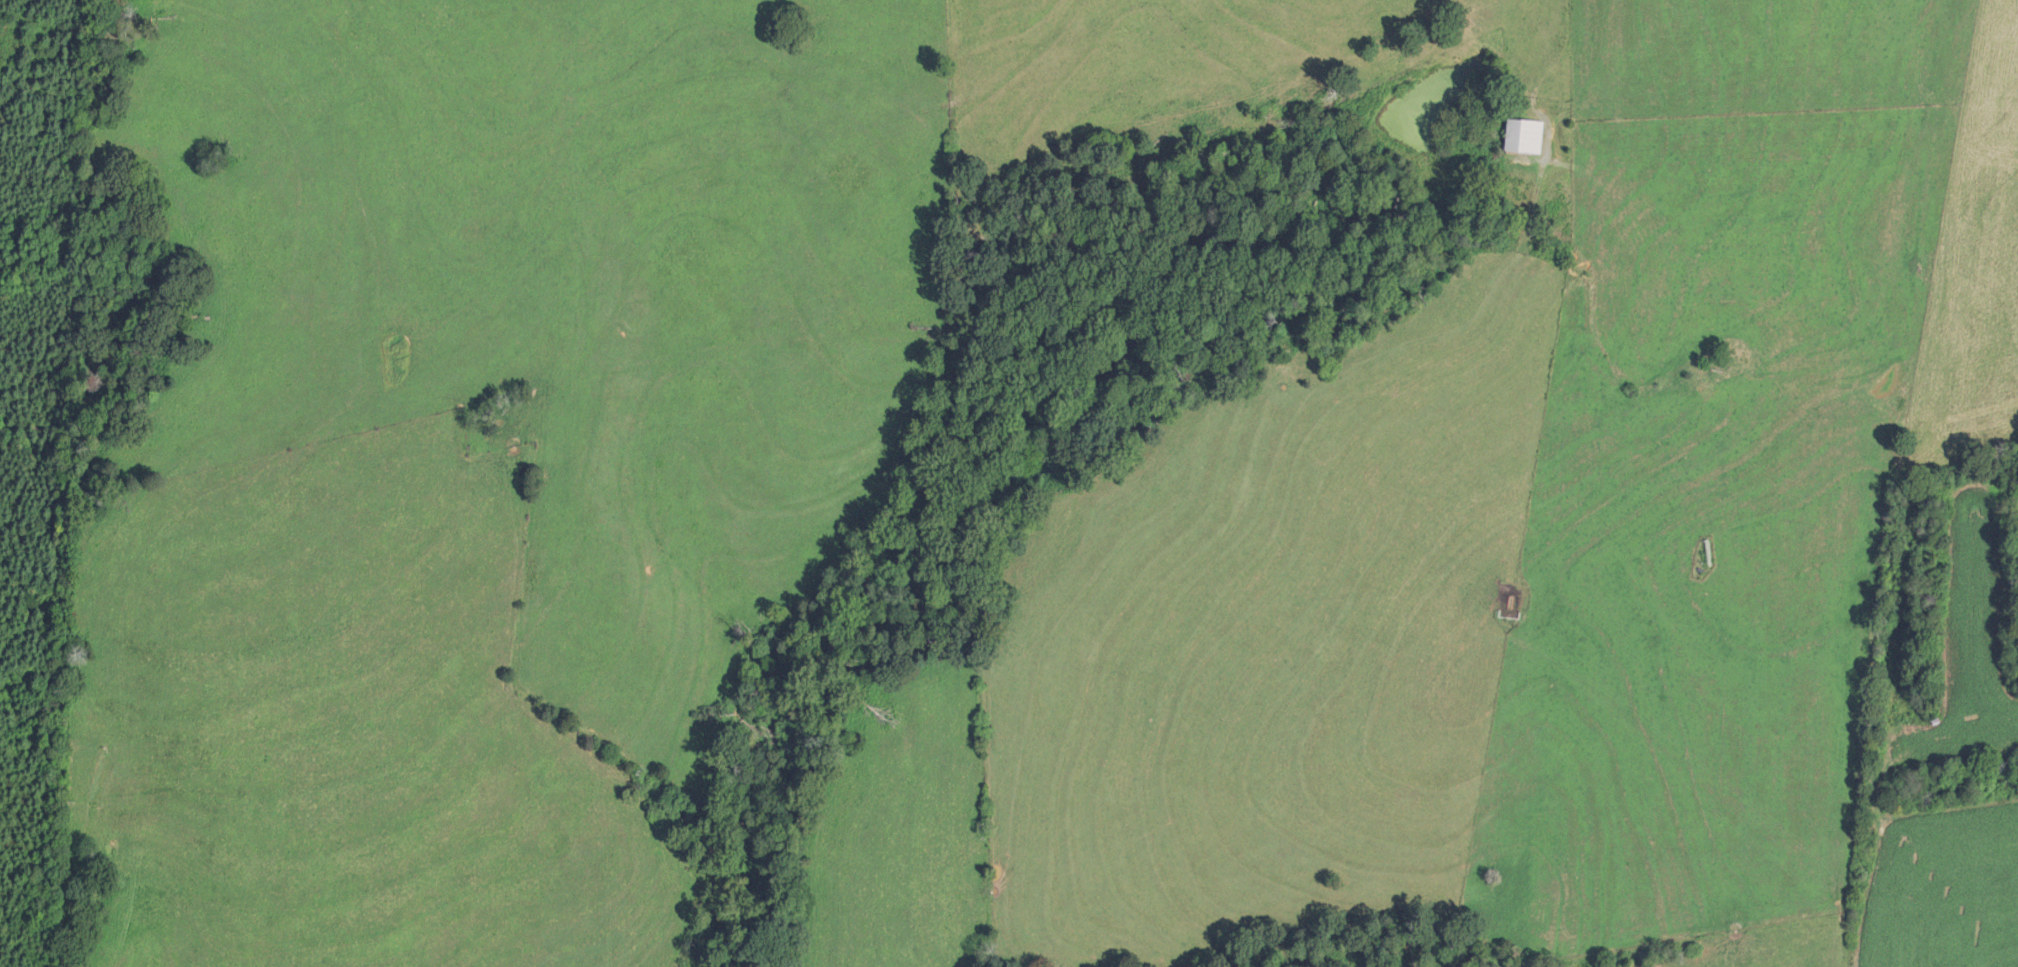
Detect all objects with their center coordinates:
building: (1524, 136)

